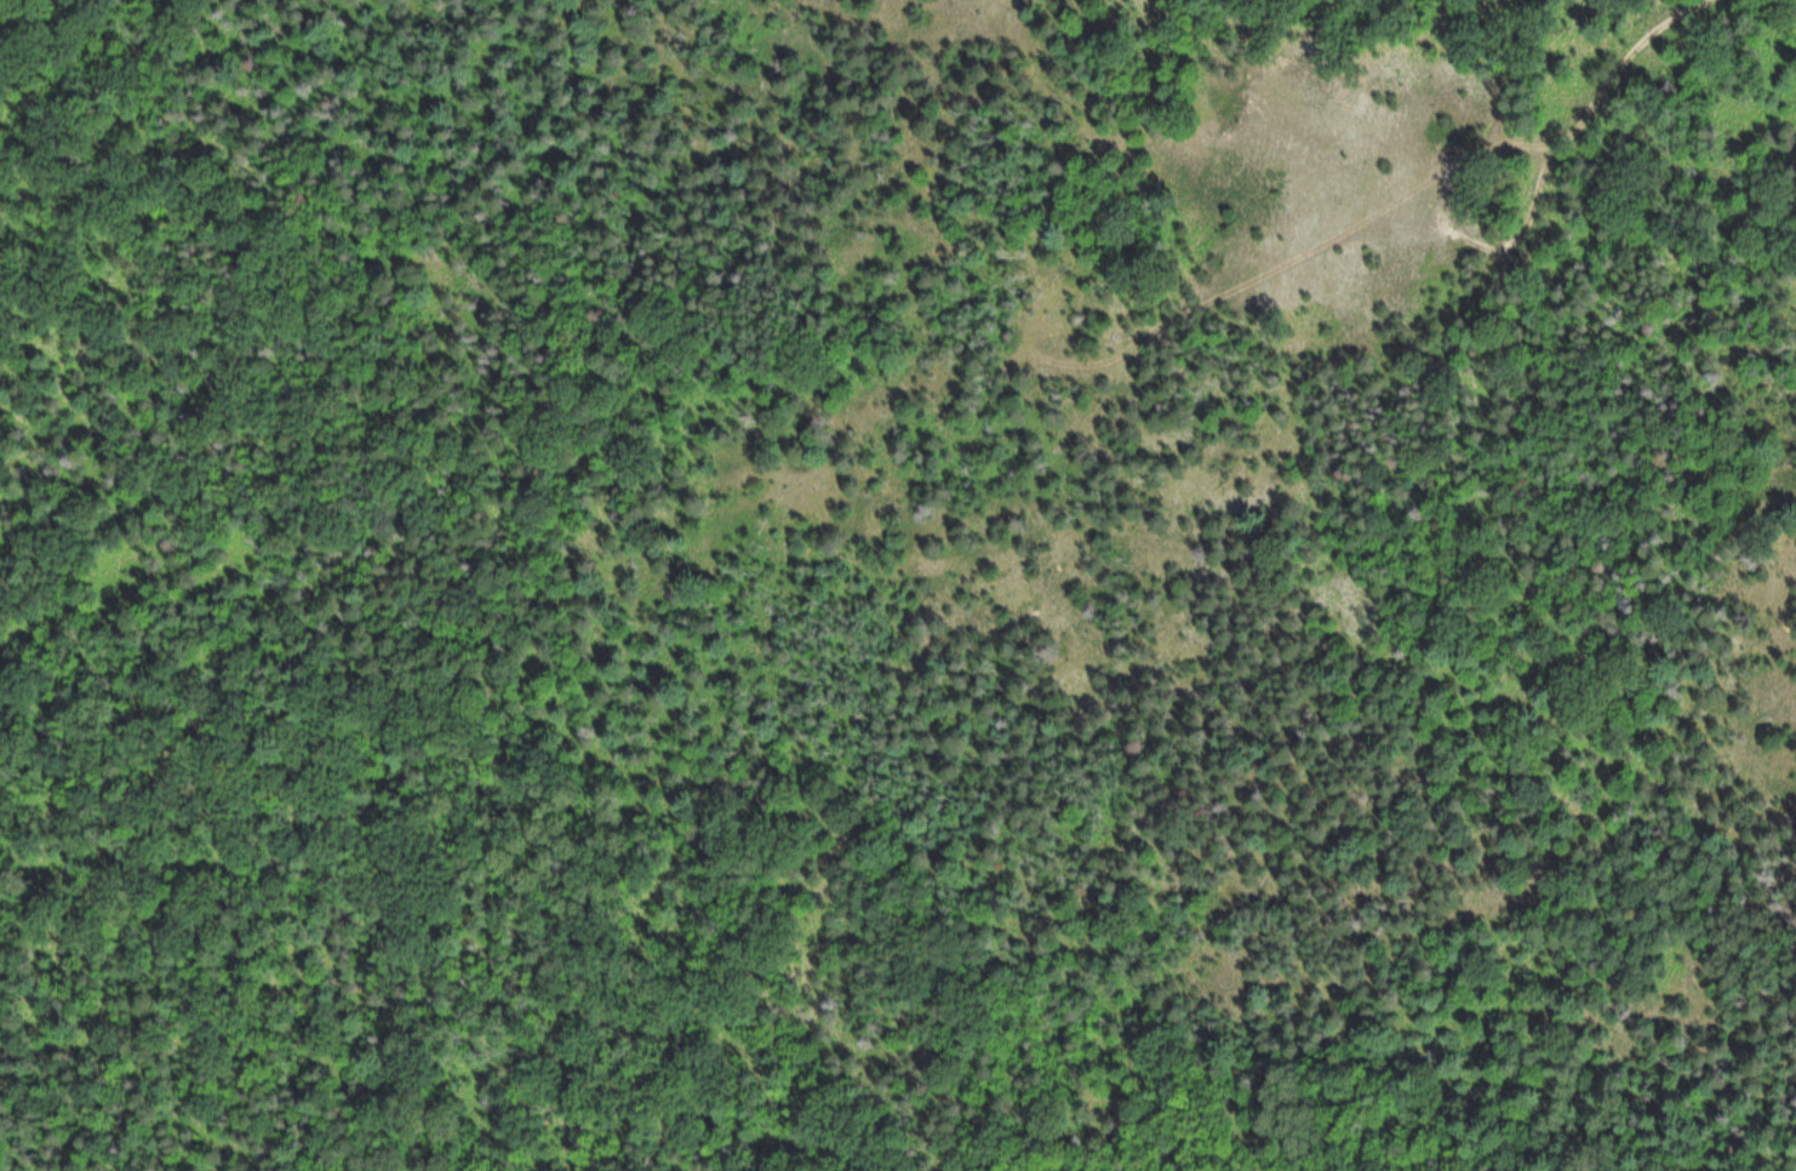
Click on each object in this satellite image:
road: (1625, 62)
road: (1462, 221)

